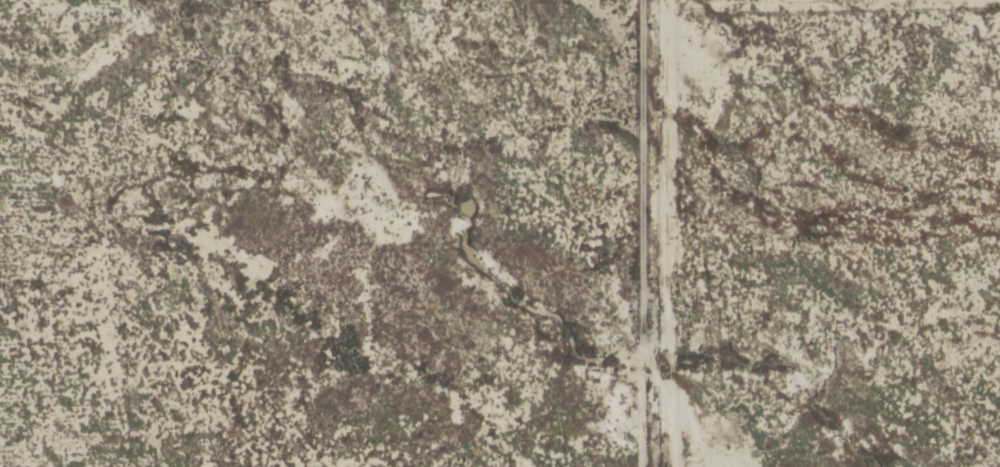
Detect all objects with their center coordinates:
road: (638, 233)

